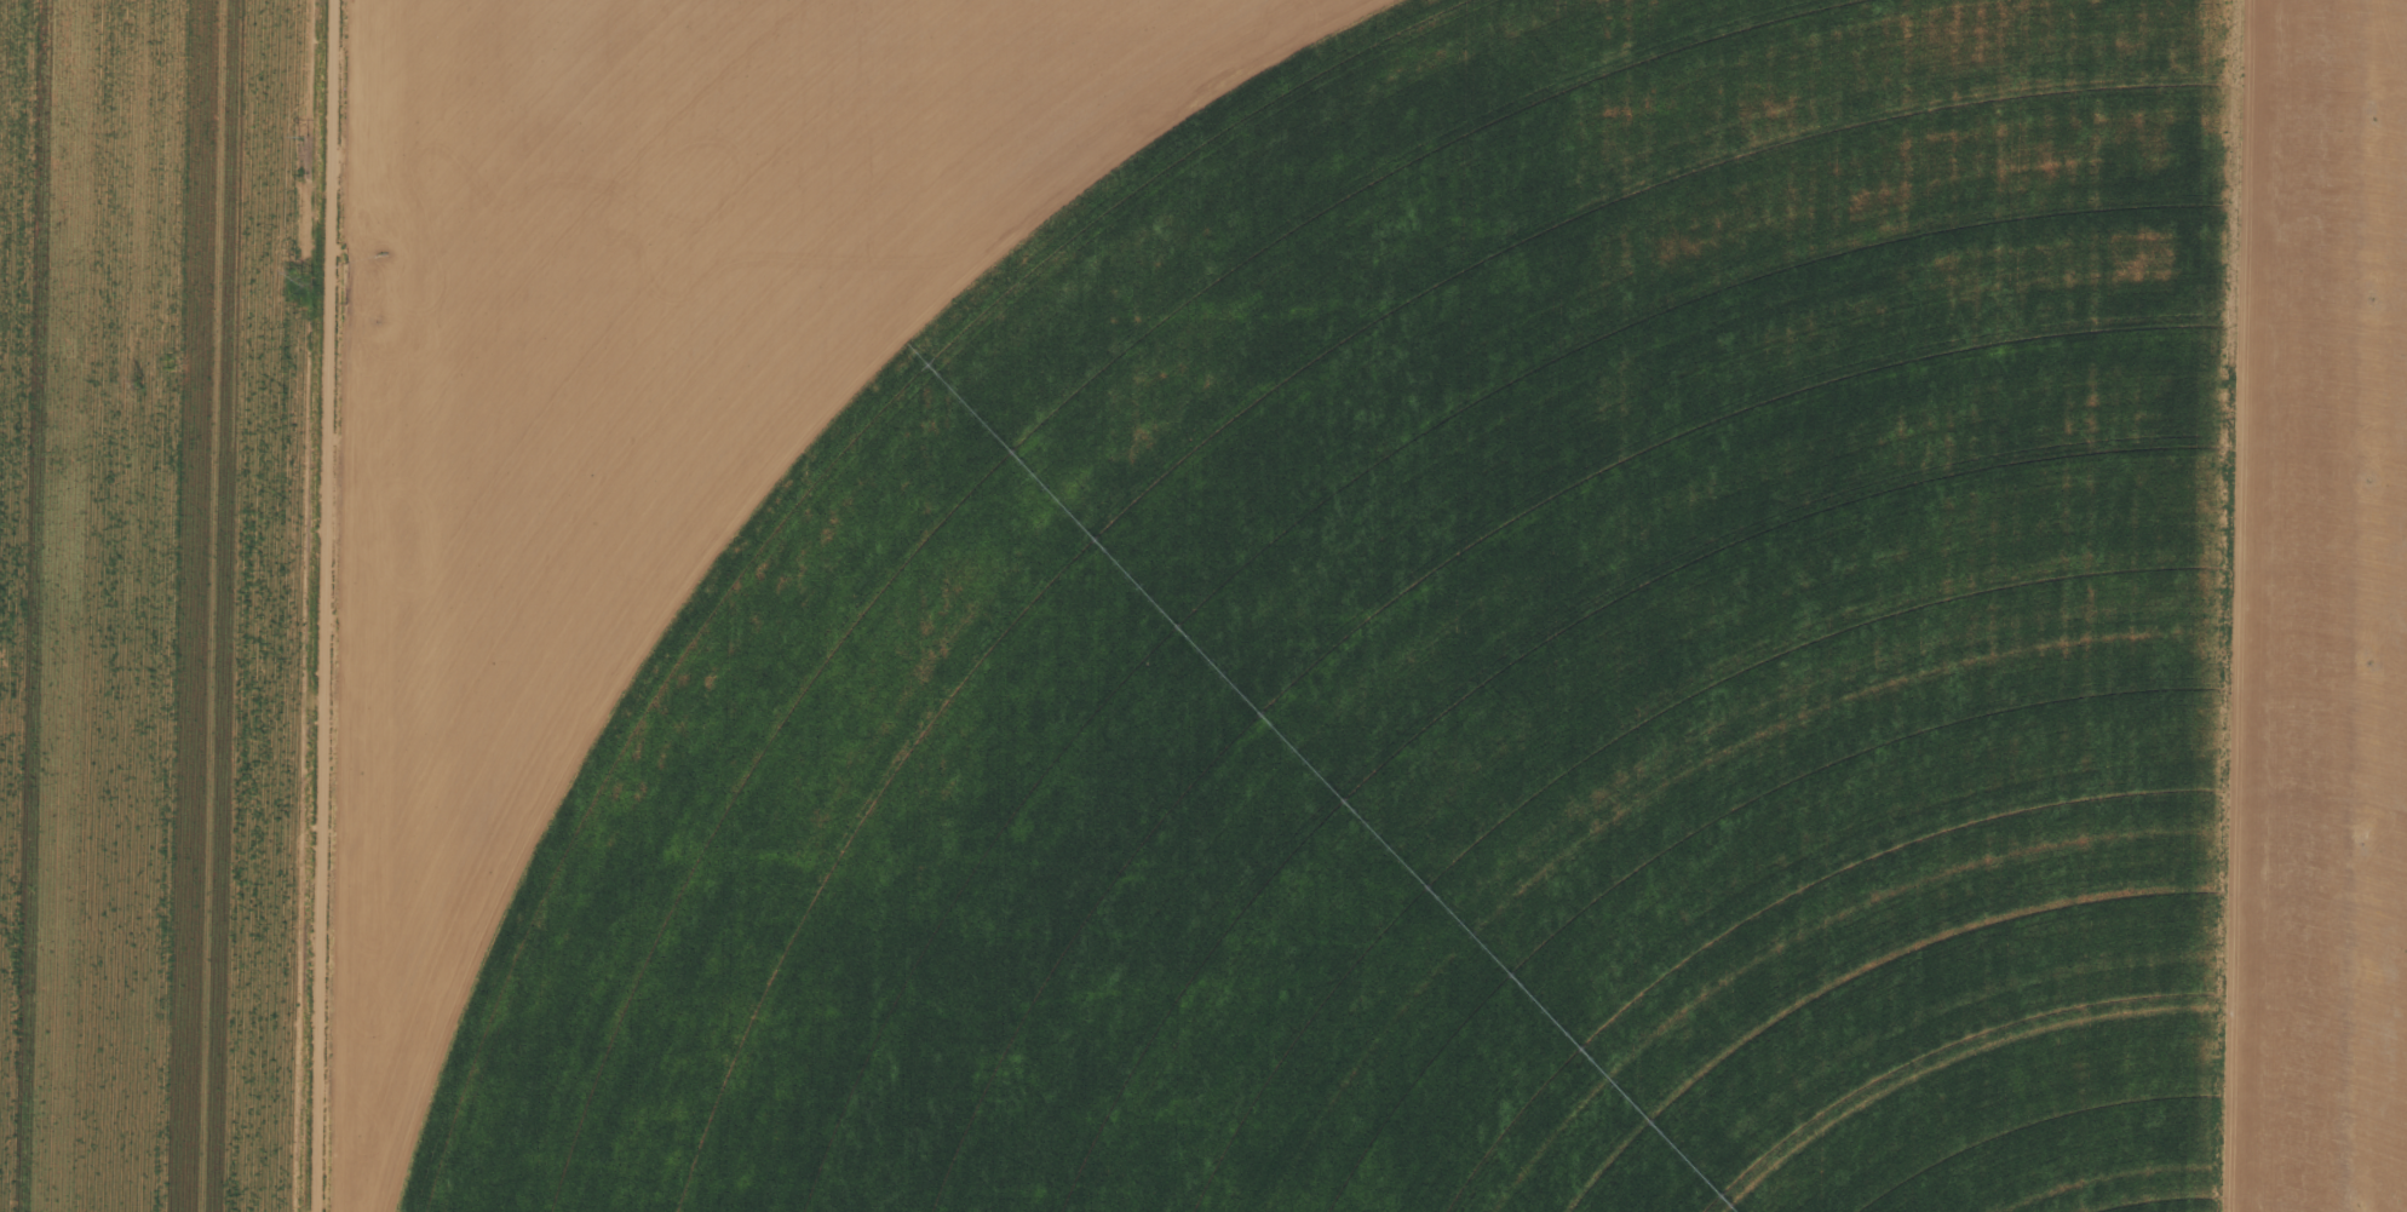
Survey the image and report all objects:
power tower: (305, 132)
power tower: (305, 268)
power tower: (139, 378)
road: (329, 605)

